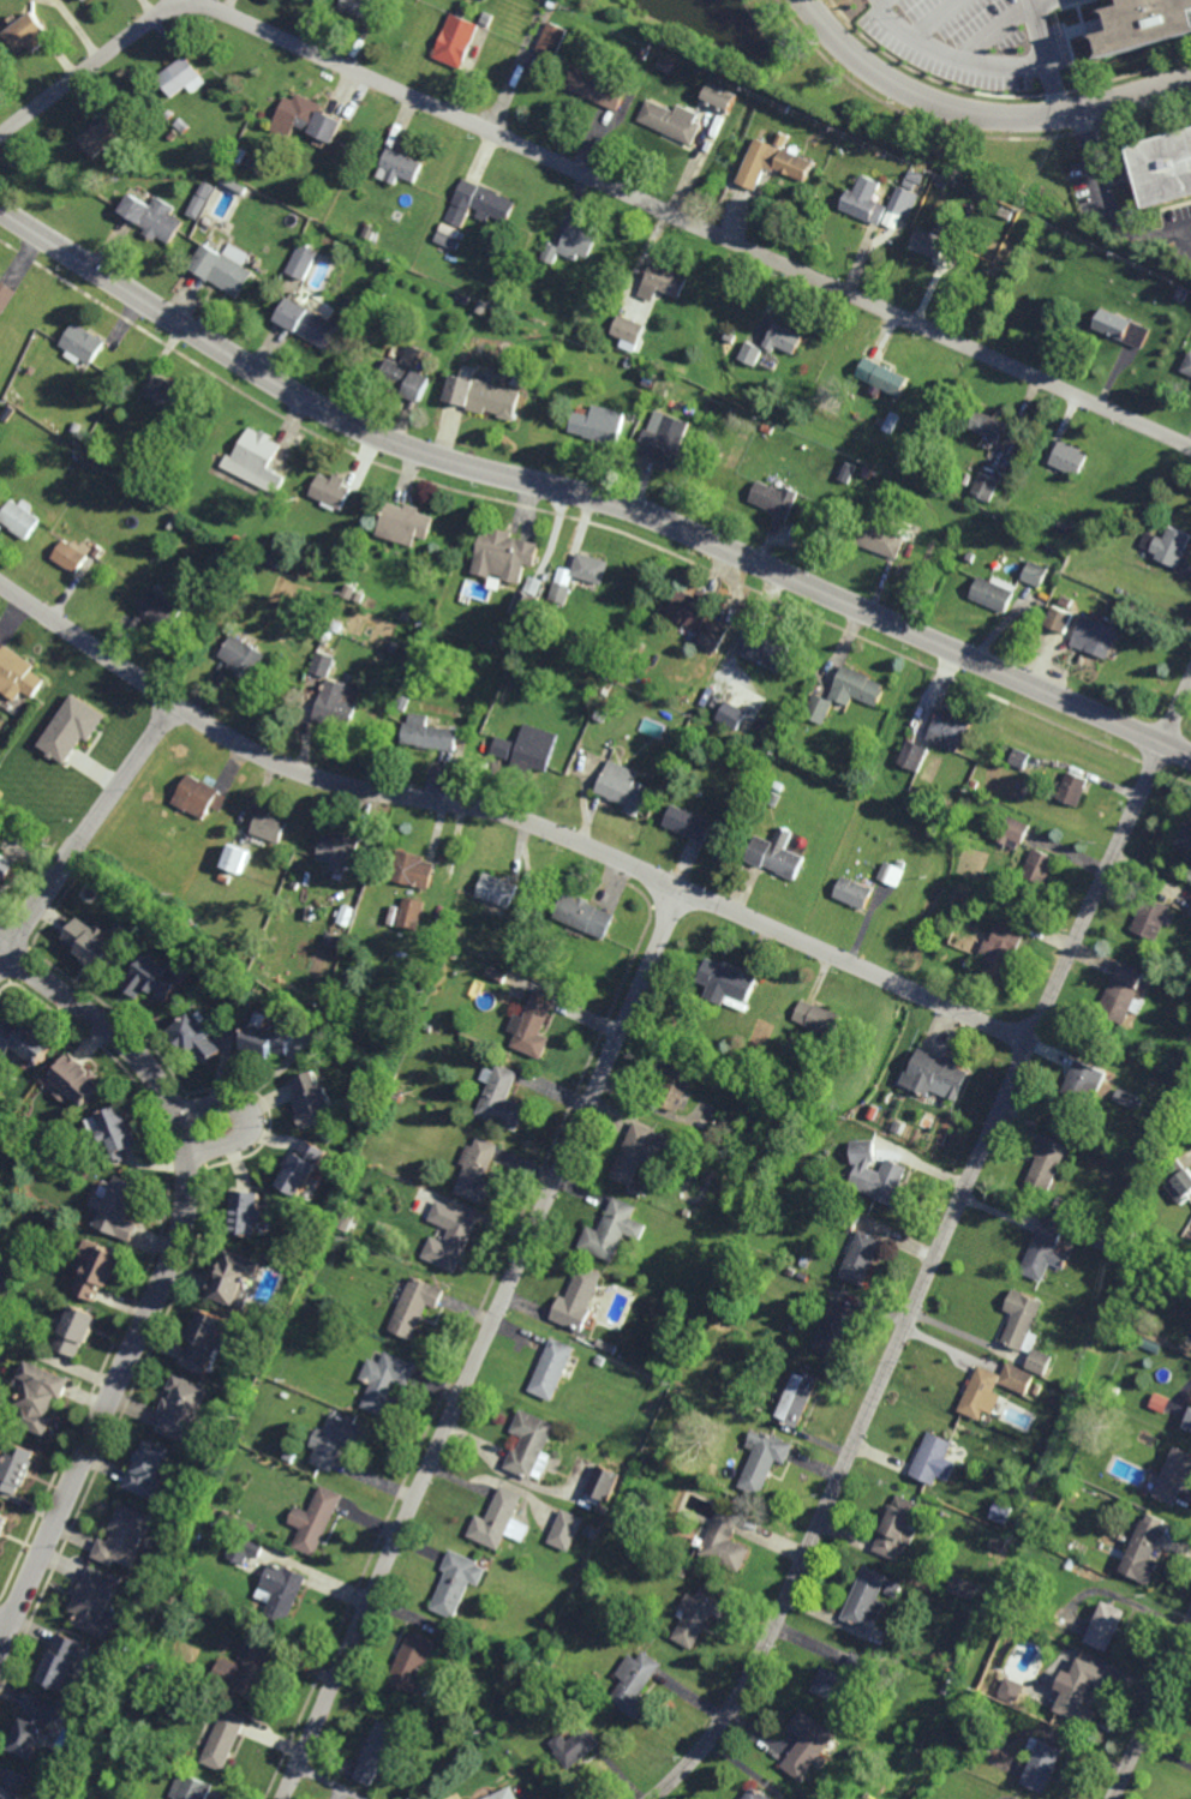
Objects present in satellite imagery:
building: (85, 0)
building: (360, 8)
building: (490, 17)
road: (932, 17)
building: (1144, 23)
road: (1034, 24)
road: (984, 28)
building: (26, 30)
road: (947, 38)
building: (552, 41)
building: (455, 42)
building: (644, 54)
road: (1030, 59)
building: (665, 66)
building: (182, 76)
building: (595, 89)
building: (720, 100)
building: (784, 108)
road: (980, 112)
building: (170, 114)
building: (310, 120)
building: (671, 121)
building: (185, 124)
building: (174, 134)
building: (101, 137)
building: (840, 152)
building: (243, 155)
building: (880, 155)
building: (772, 162)
building: (401, 166)
building: (235, 167)
building: (1163, 167)
road: (586, 174)
building: (915, 178)
building: (909, 186)
building: (203, 199)
building: (864, 200)
road: (1108, 203)
building: (479, 204)
building: (899, 206)
building: (155, 217)
building: (450, 232)
building: (371, 233)
road: (1177, 234)
building: (573, 245)
building: (928, 245)
building: (304, 262)
building: (226, 268)
building: (662, 283)
building: (383, 293)
building: (1183, 294)
building: (6, 296)
building: (465, 299)
building: (483, 307)
building: (310, 323)
building: (1121, 329)
building: (628, 330)
building: (730, 338)
building: (785, 340)
building: (83, 343)
building: (752, 354)
building: (415, 355)
building: (629, 362)
building: (1187, 366)
building: (884, 377)
building: (407, 380)
building: (648, 380)
building: (164, 392)
building: (485, 397)
building: (731, 414)
building: (604, 424)
building: (893, 424)
building: (992, 427)
building: (768, 428)
building: (73, 433)
building: (665, 440)
building: (78, 457)
building: (257, 460)
building: (1070, 460)
building: (85, 462)
building: (864, 473)
building: (968, 481)
building: (987, 488)
building: (331, 492)
road: (586, 494)
building: (776, 500)
building: (19, 518)
building: (173, 523)
building: (405, 524)
building: (881, 539)
building: (182, 541)
building: (1169, 547)
building: (97, 552)
building: (72, 556)
building: (505, 556)
building: (273, 560)
building: (1037, 576)
building: (579, 577)
building: (349, 592)
building: (995, 595)
building: (359, 598)
building: (1069, 604)
building: (526, 607)
building: (160, 611)
building: (693, 612)
building: (406, 617)
building: (321, 622)
building: (1063, 622)
building: (336, 626)
building: (328, 635)
building: (716, 636)
building: (1096, 638)
building: (765, 648)
building: (626, 652)
building: (243, 656)
building: (323, 664)
building: (17, 674)
building: (856, 686)
building: (402, 703)
building: (336, 706)
building: (819, 709)
road: (1178, 713)
building: (732, 715)
building: (603, 716)
building: (82, 720)
building: (948, 730)
building: (430, 734)
building: (503, 748)
building: (532, 754)
building: (915, 756)
building: (1021, 758)
building: (624, 787)
building: (1075, 788)
building: (199, 797)
building: (774, 799)
building: (47, 806)
road: (509, 814)
building: (163, 817)
building: (942, 818)
building: (690, 823)
building: (270, 827)
building: (988, 830)
road: (88, 833)
building: (1015, 833)
building: (172, 834)
building: (1184, 836)
building: (340, 848)
building: (813, 853)
building: (1149, 853)
building: (777, 854)
building: (1190, 856)
building: (237, 858)
building: (5, 866)
building: (1041, 866)
building: (413, 870)
building: (892, 872)
building: (497, 890)
building: (855, 893)
building: (1190, 912)
building: (412, 913)
building: (959, 913)
building: (582, 915)
building: (999, 915)
building: (1154, 918)
building: (333, 940)
building: (91, 945)
building: (1001, 953)
building: (455, 954)
building: (497, 976)
building: (155, 979)
building: (728, 983)
building: (1125, 995)
building: (818, 1019)
building: (532, 1027)
building: (197, 1039)
building: (25, 1041)
building: (271, 1041)
building: (936, 1077)
building: (1085, 1081)
building: (76, 1083)
building: (675, 1083)
building: (315, 1101)
building: (502, 1101)
building: (1131, 1101)
road: (249, 1114)
building: (898, 1127)
building: (118, 1131)
building: (1094, 1139)
building: (640, 1155)
building: (1049, 1164)
building: (304, 1170)
building: (477, 1171)
building: (878, 1176)
building: (1179, 1181)
building: (1065, 1206)
building: (119, 1210)
building: (246, 1215)
building: (846, 1217)
building: (612, 1230)
building: (1136, 1239)
building: (455, 1241)
building: (1108, 1247)
building: (862, 1259)
building: (1046, 1259)
building: (97, 1270)
road: (167, 1275)
road: (926, 1281)
building: (235, 1282)
building: (77, 1283)
building: (577, 1300)
building: (414, 1307)
building: (1023, 1321)
building: (837, 1327)
building: (275, 1330)
building: (76, 1332)
road: (478, 1343)
building: (205, 1344)
building: (603, 1344)
building: (768, 1354)
building: (600, 1361)
building: (1042, 1363)
building: (552, 1369)
building: (1119, 1379)
building: (1018, 1380)
building: (387, 1385)
building: (1113, 1390)
building: (983, 1396)
building: (798, 1398)
building: (40, 1399)
building: (1159, 1404)
building: (184, 1413)
building: (1187, 1421)
building: (1052, 1434)
building: (337, 1441)
building: (529, 1445)
building: (289, 1456)
building: (932, 1457)
building: (762, 1461)
building: (17, 1465)
building: (641, 1465)
building: (150, 1467)
building: (1174, 1475)
building: (605, 1482)
building: (604, 1510)
building: (1143, 1515)
building: (1012, 1517)
building: (2, 1518)
building: (497, 1518)
building: (316, 1519)
building: (234, 1521)
building: (249, 1525)
building: (898, 1525)
building: (567, 1530)
building: (595, 1533)
building: (125, 1535)
building: (1055, 1536)
building: (724, 1542)
building: (998, 1545)
building: (245, 1548)
building: (1144, 1549)
building: (681, 1571)
building: (457, 1583)
building: (893, 1588)
building: (964, 1588)
building: (282, 1591)
building: (170, 1593)
building: (866, 1599)
building: (97, 1601)
building: (698, 1617)
building: (1107, 1625)
road: (4, 1629)
building: (62, 1660)
building: (413, 1662)
building: (255, 1666)
building: (844, 1681)
building: (634, 1684)
building: (1084, 1690)
building: (997, 1695)
building: (534, 1704)
road: (1151, 1710)
building: (34, 1726)
building: (225, 1739)
building: (379, 1744)
building: (808, 1744)
building: (575, 1747)
building: (1043, 1763)
building: (13, 1785)
building: (190, 1788)
building: (504, 1794)
building: (758, 1794)

